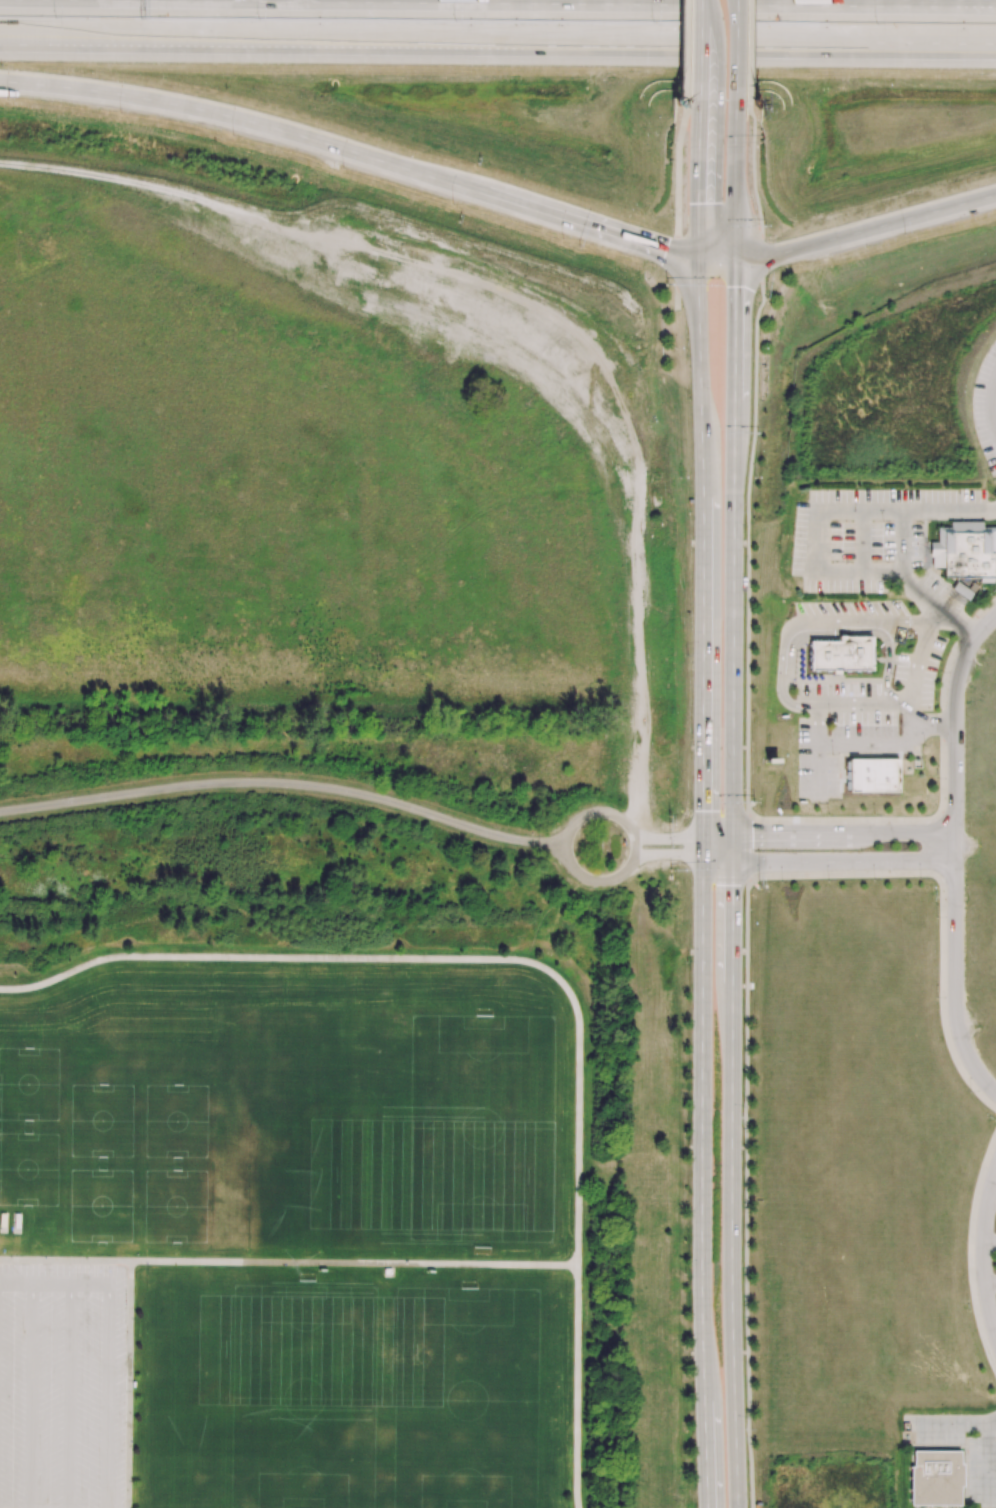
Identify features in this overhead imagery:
road: (925, 0)
street lamp: (54, 18)
road: (497, 46)
road: (734, 49)
road: (680, 50)
road: (697, 50)
road: (747, 50)
street lamp: (7, 100)
street lamp: (119, 112)
road: (244, 120)
road: (696, 176)
road: (753, 186)
traffic signals: (696, 203)
road: (674, 205)
road: (559, 217)
road: (891, 221)
road: (665, 251)
traffic signals: (665, 251)
road: (715, 254)
road: (760, 254)
road: (716, 274)
road: (680, 282)
traffic signals: (734, 285)
road: (743, 287)
road: (992, 403)
parking lot: (987, 408)
road: (994, 417)
road: (733, 480)
road: (834, 511)
parking lot: (869, 538)
road: (863, 543)
road: (746, 544)
building: (965, 555)
road: (702, 556)
road: (910, 589)
road: (904, 622)
road: (835, 627)
building: (838, 655)
parking lot: (861, 692)
road: (819, 705)
road: (913, 721)
road: (932, 726)
building: (871, 776)
road: (285, 783)
traffic signals: (702, 811)
road: (827, 834)
traffic signals: (751, 835)
road: (566, 838)
road: (667, 839)
road: (748, 849)
road: (953, 855)
road: (668, 856)
traffic signals: (685, 856)
road: (827, 862)
traffic signals: (733, 885)
road: (425, 958)
park: (12, 1077)
park: (75, 1078)
park: (156, 1079)
park: (296, 1115)
park: (469, 1118)
park: (11, 1170)
park: (74, 1170)
park: (155, 1171)
road: (702, 1184)
road: (732, 1185)
road: (747, 1196)
road: (992, 1200)
road: (989, 1241)
road: (981, 1254)
parking lot: (990, 1256)
road: (66, 1261)
road: (355, 1264)
road: (54, 1283)
road: (989, 1283)
road: (990, 1321)
road: (993, 1324)
parking lot: (62, 1386)
road: (576, 1387)
road: (32, 1395)
road: (70, 1395)
road: (108, 1396)
park: (292, 1397)
park: (467, 1398)
road: (956, 1423)
road: (989, 1462)
parking lot: (982, 1472)
building: (936, 1479)

